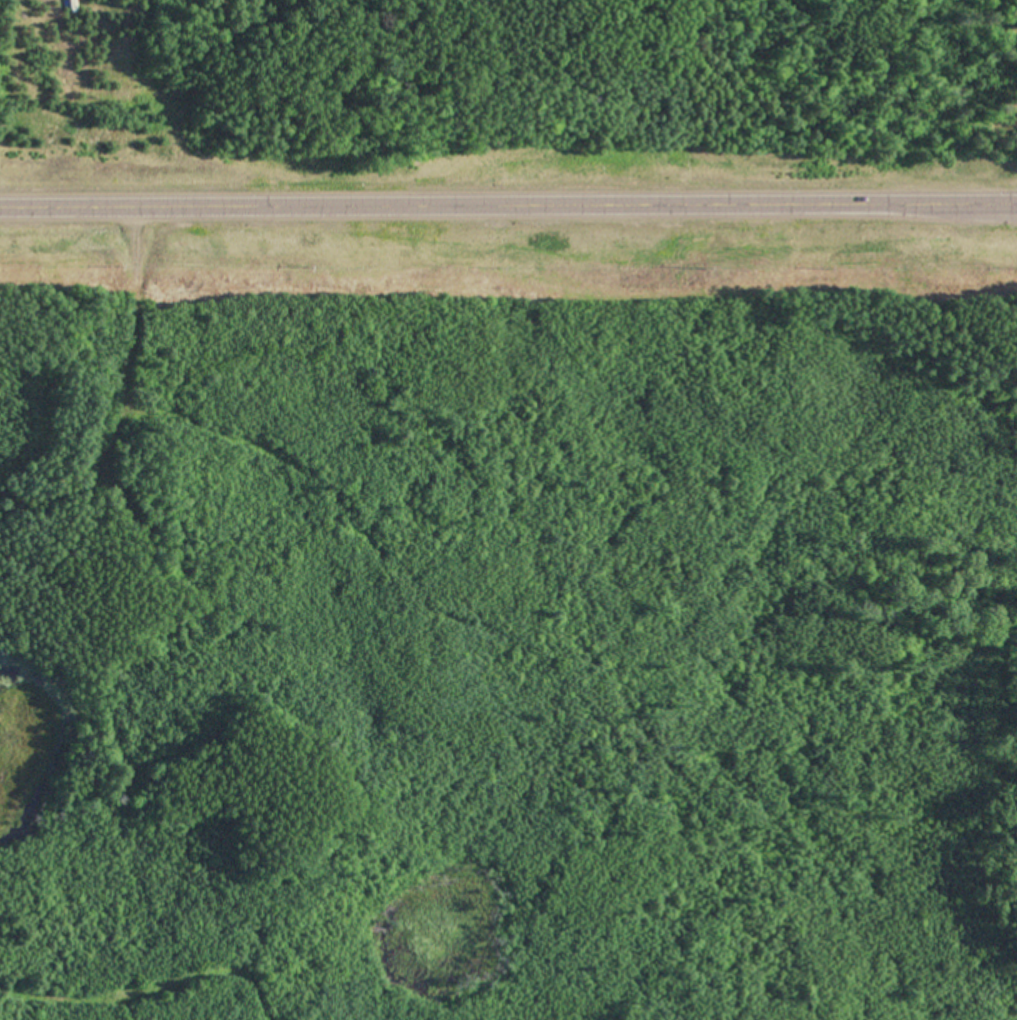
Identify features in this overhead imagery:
road: (508, 201)

